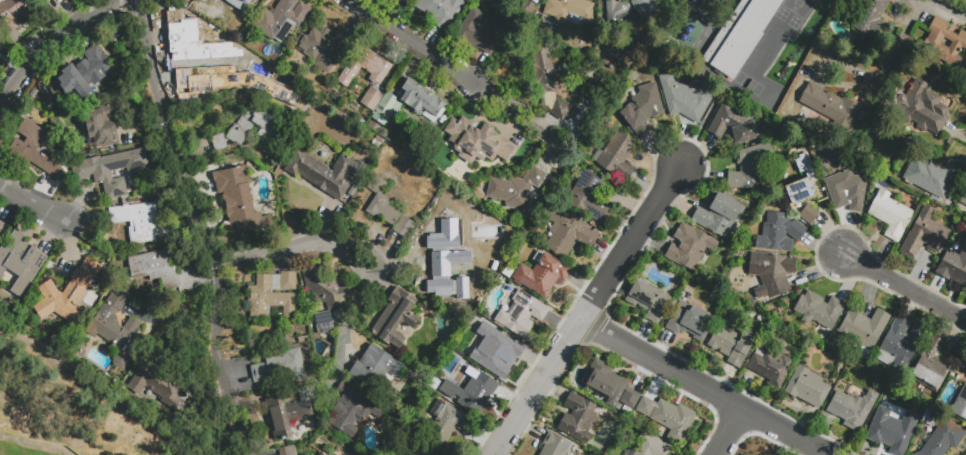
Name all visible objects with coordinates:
park: (813, 0)
road: (925, 0)
building: (235, 1)
building: (208, 6)
park: (797, 6)
building: (440, 11)
building: (626, 11)
building: (570, 12)
building: (14, 14)
building: (871, 19)
building: (282, 21)
building: (476, 35)
building: (738, 35)
road: (54, 41)
road: (413, 46)
building: (933, 48)
building: (324, 49)
building: (965, 54)
building: (196, 56)
building: (366, 70)
building: (84, 75)
building: (266, 80)
building: (548, 83)
park: (747, 83)
building: (416, 101)
building: (684, 101)
building: (371, 102)
building: (916, 105)
building: (831, 109)
building: (579, 111)
building: (644, 111)
road: (524, 122)
building: (734, 128)
building: (102, 129)
building: (271, 129)
road: (699, 131)
building: (950, 141)
building: (477, 142)
building: (219, 145)
building: (36, 152)
building: (615, 156)
building: (750, 170)
building: (111, 171)
building: (324, 175)
building: (471, 179)
building: (932, 179)
building: (802, 183)
building: (483, 184)
building: (516, 190)
building: (847, 193)
building: (480, 195)
road: (194, 196)
building: (590, 199)
building: (963, 200)
building: (239, 201)
road: (31, 203)
building: (388, 212)
building: (809, 216)
building: (891, 217)
building: (721, 218)
building: (136, 220)
building: (0, 221)
building: (2, 227)
building: (924, 234)
building: (568, 235)
building: (780, 235)
building: (423, 240)
road: (629, 245)
road: (299, 249)
building: (690, 249)
building: (488, 264)
building: (446, 266)
building: (21, 269)
building: (954, 269)
building: (157, 270)
building: (508, 271)
building: (542, 276)
building: (772, 276)
building: (327, 290)
road: (904, 290)
building: (68, 294)
building: (273, 298)
building: (649, 302)
road: (353, 309)
building: (820, 312)
building: (522, 316)
building: (396, 320)
building: (691, 323)
building: (325, 324)
building: (864, 330)
building: (117, 331)
building: (447, 331)
building: (305, 339)
building: (732, 344)
building: (900, 347)
building: (499, 355)
building: (771, 367)
building: (965, 368)
building: (931, 369)
building: (281, 370)
building: (376, 370)
building: (965, 373)
building: (158, 385)
road: (535, 388)
building: (611, 388)
road: (705, 388)
building: (808, 389)
building: (471, 394)
building: (307, 395)
road: (89, 398)
building: (960, 407)
building: (853, 408)
building: (355, 412)
building: (285, 418)
building: (669, 419)
building: (578, 420)
road: (236, 425)
building: (447, 426)
road: (727, 431)
building: (893, 432)
building: (409, 439)
building: (944, 440)
building: (555, 445)
park: (28, 447)
building: (652, 447)
building: (288, 452)
building: (322, 453)
building: (420, 453)
building: (744, 454)

